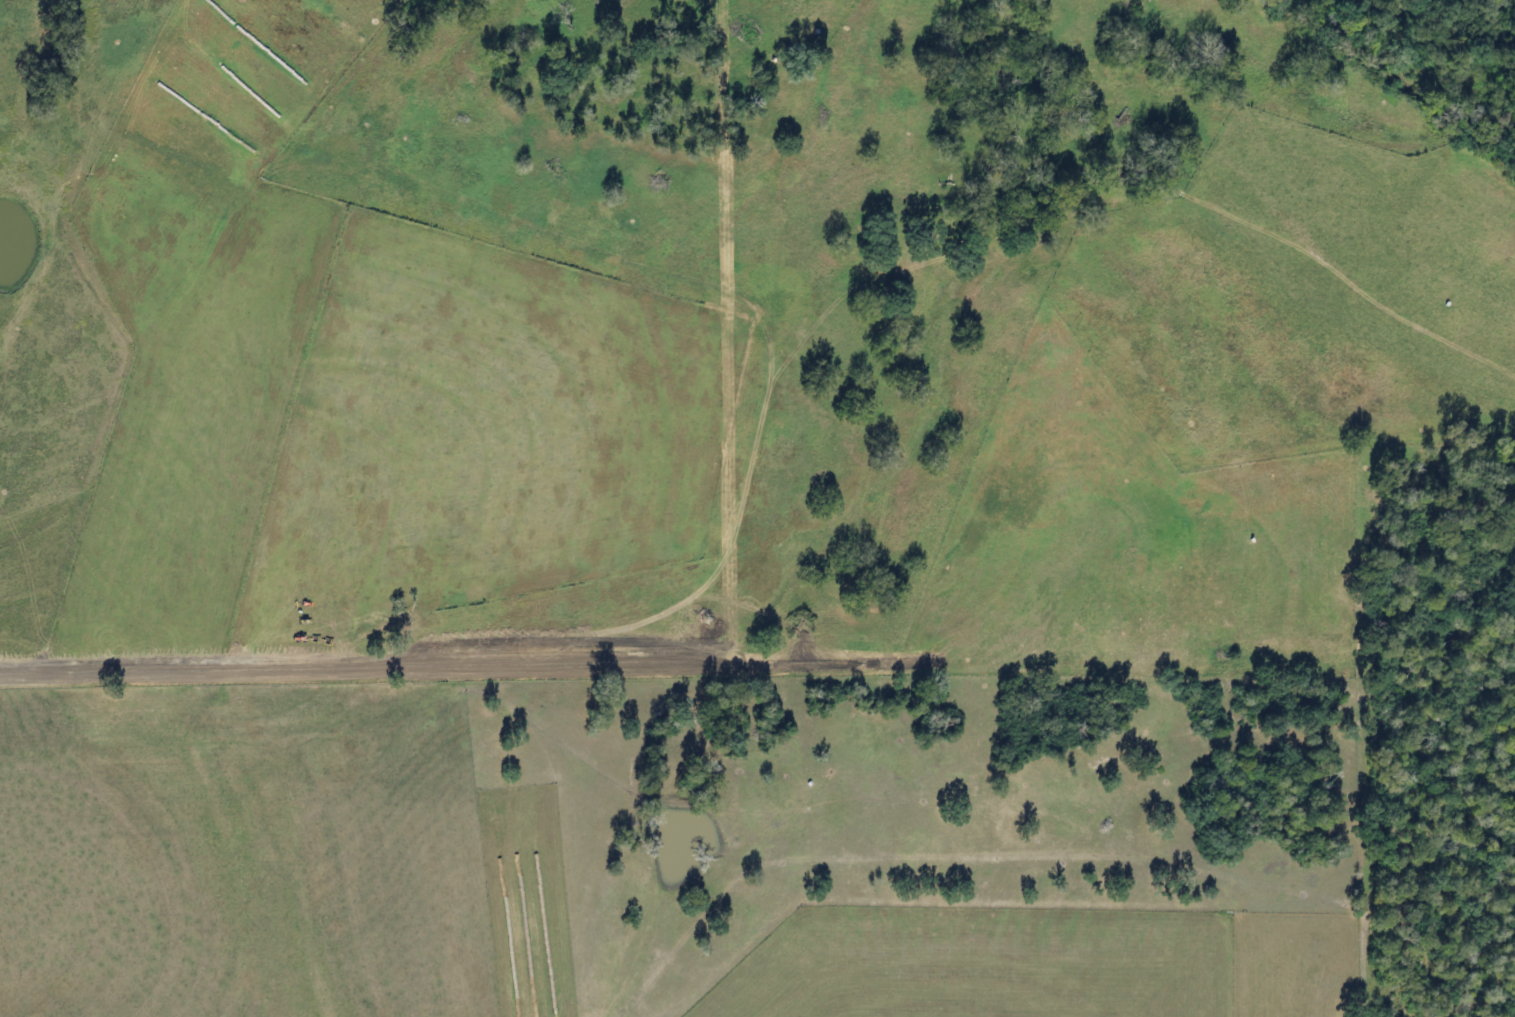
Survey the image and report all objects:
road: (494, 638)

